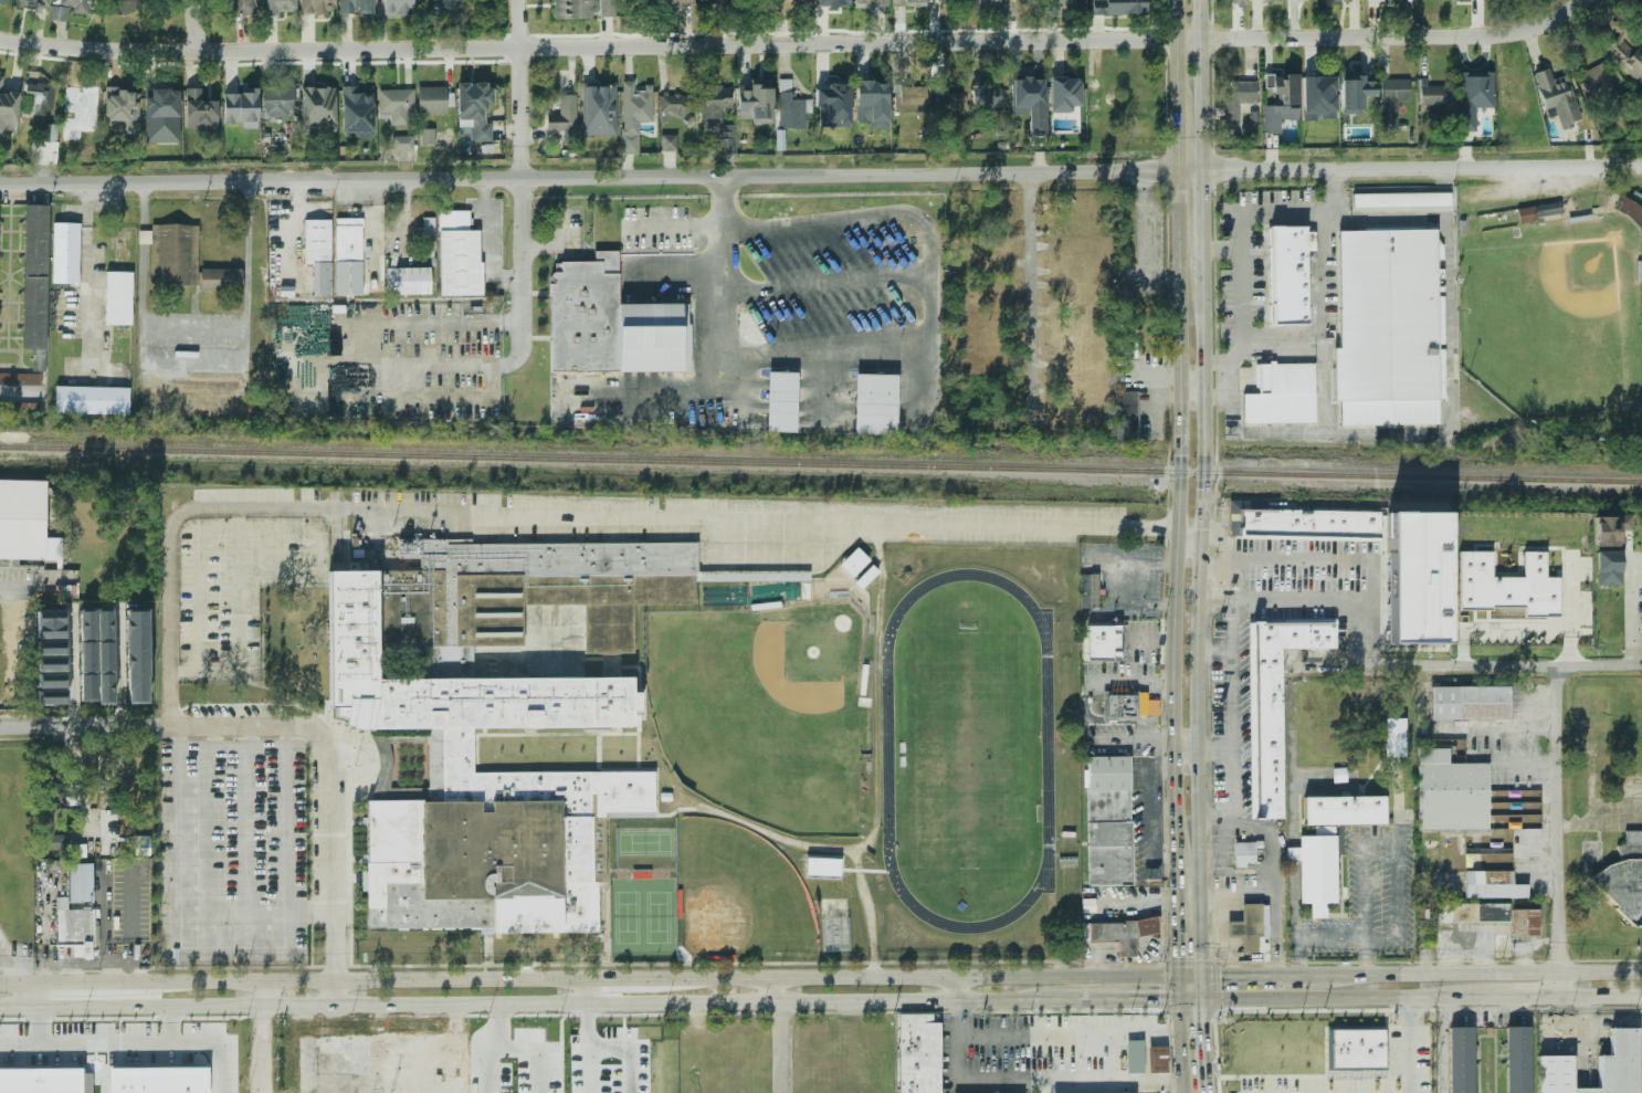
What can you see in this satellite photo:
building: (0, 1)
building: (712, 1)
building: (1059, 1)
building: (1236, 1)
building: (1375, 1)
building: (675, 2)
building: (786, 2)
building: (902, 2)
building: (943, 2)
building: (33, 3)
building: (127, 3)
building: (444, 3)
building: (834, 4)
building: (985, 4)
building: (1125, 4)
building: (390, 6)
building: (566, 6)
building: (1096, 6)
building: (276, 7)
building: (317, 7)
building: (355, 7)
building: (240, 8)
building: (606, 8)
building: (66, 9)
building: (855, 10)
road: (516, 23)
road: (192, 25)
road: (1408, 36)
road: (1187, 39)
road: (572, 45)
building: (1627, 48)
building: (1594, 82)
building: (1357, 90)
building: (1278, 92)
building: (1319, 92)
building: (1140, 93)
building: (1469, 93)
building: (40, 94)
building: (1064, 94)
building: (1552, 94)
building: (1433, 96)
building: (314, 97)
building: (986, 97)
building: (1106, 97)
building: (911, 98)
building: (78, 99)
building: (431, 99)
building: (756, 101)
building: (277, 102)
building: (870, 102)
building: (947, 102)
building: (1236, 102)
building: (1390, 103)
building: (833, 104)
building: (358, 105)
building: (394, 105)
building: (673, 106)
building: (1024, 106)
building: (475, 107)
building: (790, 107)
building: (8, 108)
building: (116, 108)
building: (156, 108)
building: (197, 111)
building: (598, 111)
building: (716, 115)
building: (565, 118)
building: (1254, 118)
building: (634, 119)
building: (428, 136)
building: (402, 143)
building: (669, 143)
building: (43, 147)
road: (1432, 168)
road: (1189, 171)
road: (578, 178)
road: (519, 198)
building: (1635, 198)
building: (1401, 199)
building: (1630, 210)
building: (1538, 212)
road: (286, 218)
building: (1123, 234)
building: (429, 237)
road: (1240, 249)
road: (1221, 250)
building: (70, 252)
building: (177, 253)
building: (322, 253)
building: (462, 254)
building: (354, 256)
road: (723, 270)
road: (86, 273)
building: (1291, 274)
building: (39, 275)
building: (224, 280)
building: (411, 280)
building: (122, 297)
road: (1029, 301)
park: (1552, 314)
road: (1326, 320)
building: (610, 324)
building: (1390, 326)
building: (1126, 339)
road: (196, 346)
road: (361, 349)
building: (22, 378)
road: (1191, 383)
road: (20, 389)
building: (1285, 393)
building: (95, 399)
building: (780, 401)
building: (874, 403)
building: (18, 410)
building: (1125, 417)
road: (1180, 419)
railway: (820, 464)
road: (1202, 488)
road: (569, 514)
building: (20, 517)
building: (1305, 522)
building: (1615, 528)
road: (1188, 544)
road: (1269, 557)
building: (854, 561)
building: (1612, 567)
building: (1413, 576)
building: (866, 577)
building: (1509, 585)
road: (0, 586)
road: (235, 589)
building: (1087, 591)
road: (1290, 596)
road: (1631, 608)
building: (51, 624)
road: (1361, 632)
building: (1101, 643)
building: (51, 648)
building: (87, 655)
building: (105, 656)
building: (137, 656)
road: (118, 668)
road: (1464, 668)
road: (71, 670)
building: (52, 672)
road: (1130, 683)
building: (52, 696)
building: (1272, 701)
building: (1473, 702)
building: (1120, 706)
building: (1148, 708)
park: (760, 711)
road: (1229, 711)
building: (486, 719)
road: (1114, 721)
road: (283, 725)
road: (76, 727)
road: (1502, 729)
road: (212, 736)
road: (249, 736)
building: (1394, 737)
road: (241, 746)
road: (1213, 748)
track: (886, 749)
road: (1186, 749)
road: (1528, 761)
flagpole: (354, 765)
building: (1453, 791)
building: (52, 792)
building: (1347, 809)
building: (630, 815)
building: (1407, 816)
building: (1112, 822)
road: (288, 829)
road: (249, 830)
building: (49, 832)
road: (1559, 832)
park: (644, 843)
road: (1394, 844)
road: (1271, 847)
building: (1249, 852)
building: (822, 866)
road: (326, 868)
building: (1320, 869)
building: (1624, 879)
park: (738, 895)
road: (178, 896)
building: (1497, 903)
road: (1173, 907)
park: (642, 918)
building: (1255, 928)
building: (74, 931)
building: (1127, 933)
road: (1313, 939)
road: (331, 946)
traffic signals: (1175, 957)
road: (1366, 957)
road: (12, 967)
road: (1482, 975)
road: (1187, 977)
traffic signals: (1219, 977)
road: (1234, 977)
road: (1296, 977)
road: (587, 979)
road: (765, 989)
road: (954, 989)
road: (1175, 989)
road: (588, 991)
road: (271, 995)
road: (333, 995)
road: (1600, 996)
road: (1509, 997)
road: (1330, 998)
road: (1119, 1000)
traffic signals: (1158, 1000)
road: (519, 1003)
traffic signals: (1201, 1020)
road: (588, 1024)
road: (498, 1026)
road: (1070, 1033)
road: (456, 1034)
road: (780, 1034)
road: (1201, 1034)
road: (204, 1039)
road: (1443, 1044)
road: (1411, 1045)
road: (1179, 1047)
road: (631, 1048)
building: (1358, 1048)
road: (267, 1050)
road: (537, 1051)
building: (916, 1053)
parking lot: (1028, 1055)
building: (1131, 1057)
building: (1155, 1058)
building: (1456, 1060)
building: (1515, 1060)
road: (487, 1066)
road: (589, 1069)
building: (1618, 1069)
building: (344, 1070)
building: (152, 1079)
building: (39, 1080)
road: (1032, 1080)

